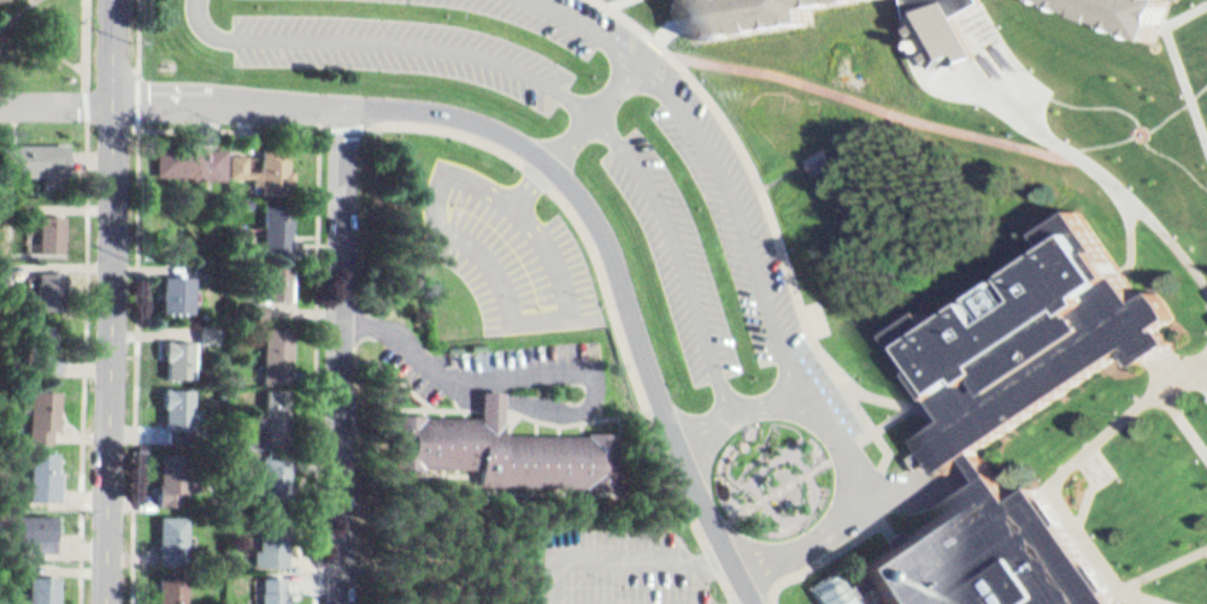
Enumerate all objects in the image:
building: (6, 0)
road: (37, 0)
road: (614, 2)
building: (755, 16)
building: (1119, 16)
road: (8, 23)
road: (675, 25)
building: (943, 29)
road: (41, 32)
road: (1171, 63)
road: (552, 88)
road: (1084, 100)
road: (173, 102)
road: (867, 102)
road: (1177, 103)
road: (1020, 106)
road: (593, 113)
road: (865, 119)
road: (818, 135)
road: (1107, 137)
road: (742, 141)
building: (36, 150)
road: (1177, 152)
building: (192, 153)
building: (270, 160)
road: (524, 160)
road: (718, 160)
road: (781, 165)
road: (1149, 209)
building: (279, 221)
building: (49, 226)
road: (1135, 233)
parking lot: (719, 245)
parking lot: (513, 254)
building: (279, 272)
road: (622, 278)
building: (176, 284)
building: (51, 285)
road: (92, 301)
road: (118, 301)
road: (141, 301)
road: (514, 301)
building: (213, 331)
building: (41, 343)
building: (1034, 343)
building: (279, 344)
building: (53, 347)
building: (181, 351)
road: (349, 355)
road: (547, 363)
road: (1172, 366)
road: (1205, 366)
road: (326, 367)
parking lot: (507, 367)
building: (181, 404)
road: (1166, 404)
building: (47, 407)
road: (915, 408)
building: (272, 415)
road: (895, 415)
building: (501, 442)
road: (852, 442)
road: (1099, 443)
road: (847, 445)
road: (889, 448)
building: (52, 466)
building: (173, 469)
building: (277, 473)
road: (783, 480)
road: (1088, 484)
road: (883, 495)
road: (718, 517)
building: (45, 520)
building: (173, 532)
building: (273, 538)
road: (1091, 545)
road: (836, 552)
building: (989, 556)
road: (444, 558)
road: (517, 559)
road: (619, 561)
road: (718, 561)
parking lot: (612, 568)
road: (1158, 570)
building: (173, 586)
building: (275, 587)
road: (732, 587)
building: (847, 587)
building: (52, 590)
parking lot: (875, 596)
road: (1149, 598)
road: (741, 602)
road: (752, 602)

